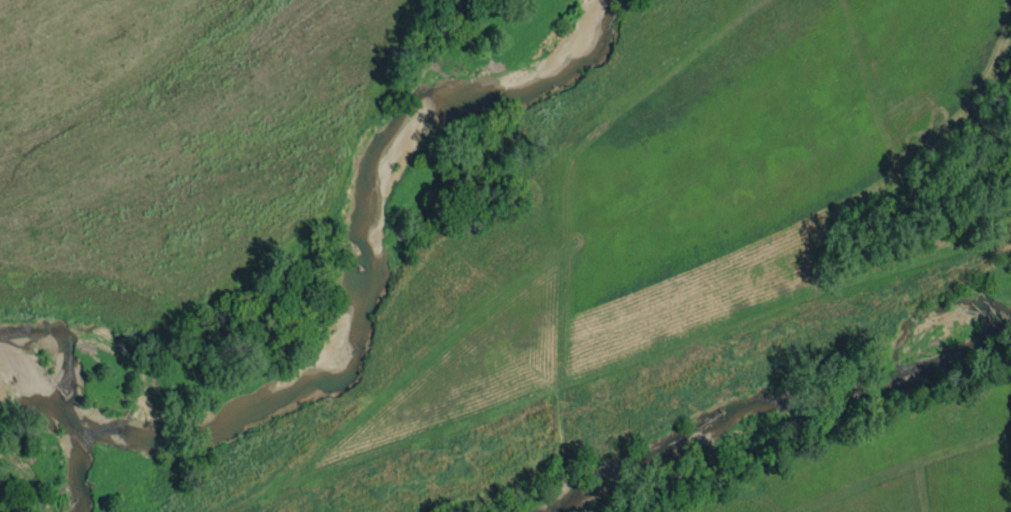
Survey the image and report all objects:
power tower: (12, 319)
river: (352, 345)
river: (797, 415)
river: (81, 469)

